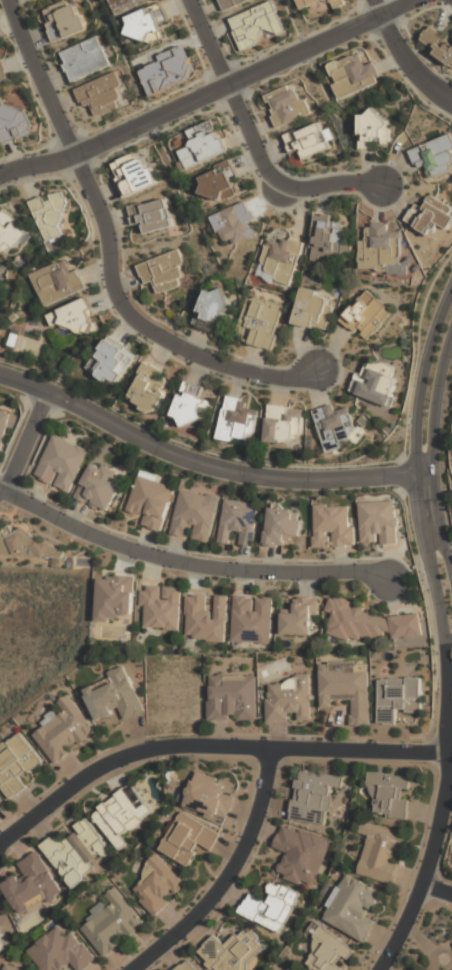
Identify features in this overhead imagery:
building: (307, 2)
building: (232, 3)
building: (337, 3)
building: (125, 5)
road: (376, 8)
building: (63, 20)
building: (148, 23)
building: (255, 24)
building: (437, 44)
road: (415, 50)
building: (84, 59)
road: (408, 63)
building: (2, 70)
building: (168, 70)
building: (353, 75)
road: (210, 91)
building: (101, 94)
building: (287, 107)
building: (14, 123)
building: (372, 130)
building: (309, 140)
road: (254, 142)
building: (203, 149)
building: (434, 157)
building: (134, 173)
building: (219, 183)
building: (50, 213)
building: (151, 215)
building: (431, 217)
building: (235, 223)
building: (11, 232)
building: (328, 238)
building: (380, 249)
road: (112, 252)
building: (280, 260)
building: (163, 271)
building: (56, 282)
building: (212, 308)
building: (312, 309)
building: (366, 315)
building: (73, 318)
building: (261, 321)
road: (433, 334)
road: (443, 355)
building: (112, 362)
road: (25, 381)
building: (375, 384)
building: (149, 388)
building: (190, 404)
building: (236, 421)
building: (281, 423)
building: (2, 425)
building: (333, 427)
road: (28, 441)
building: (61, 464)
road: (232, 471)
road: (432, 482)
building: (98, 486)
building: (150, 501)
building: (194, 516)
building: (237, 523)
building: (378, 524)
building: (332, 526)
building: (280, 527)
road: (423, 537)
building: (25, 544)
road: (187, 562)
building: (114, 597)
building: (160, 607)
building: (205, 618)
building: (298, 619)
building: (251, 620)
building: (368, 622)
building: (346, 688)
building: (112, 696)
building: (232, 698)
building: (398, 698)
road: (448, 699)
building: (288, 701)
building: (63, 731)
road: (210, 744)
building: (16, 764)
building: (389, 795)
building: (313, 796)
building: (209, 797)
building: (1, 800)
building: (121, 814)
building: (188, 839)
building: (76, 851)
building: (381, 853)
building: (301, 855)
road: (430, 856)
road: (227, 876)
building: (30, 885)
building: (158, 885)
road: (438, 888)
building: (271, 907)
building: (352, 909)
building: (110, 925)
building: (1, 931)
building: (1, 935)
building: (2, 947)
building: (451, 947)
building: (232, 951)
building: (61, 952)
building: (327, 953)
building: (186, 966)
building: (18, 968)
building: (289, 969)

